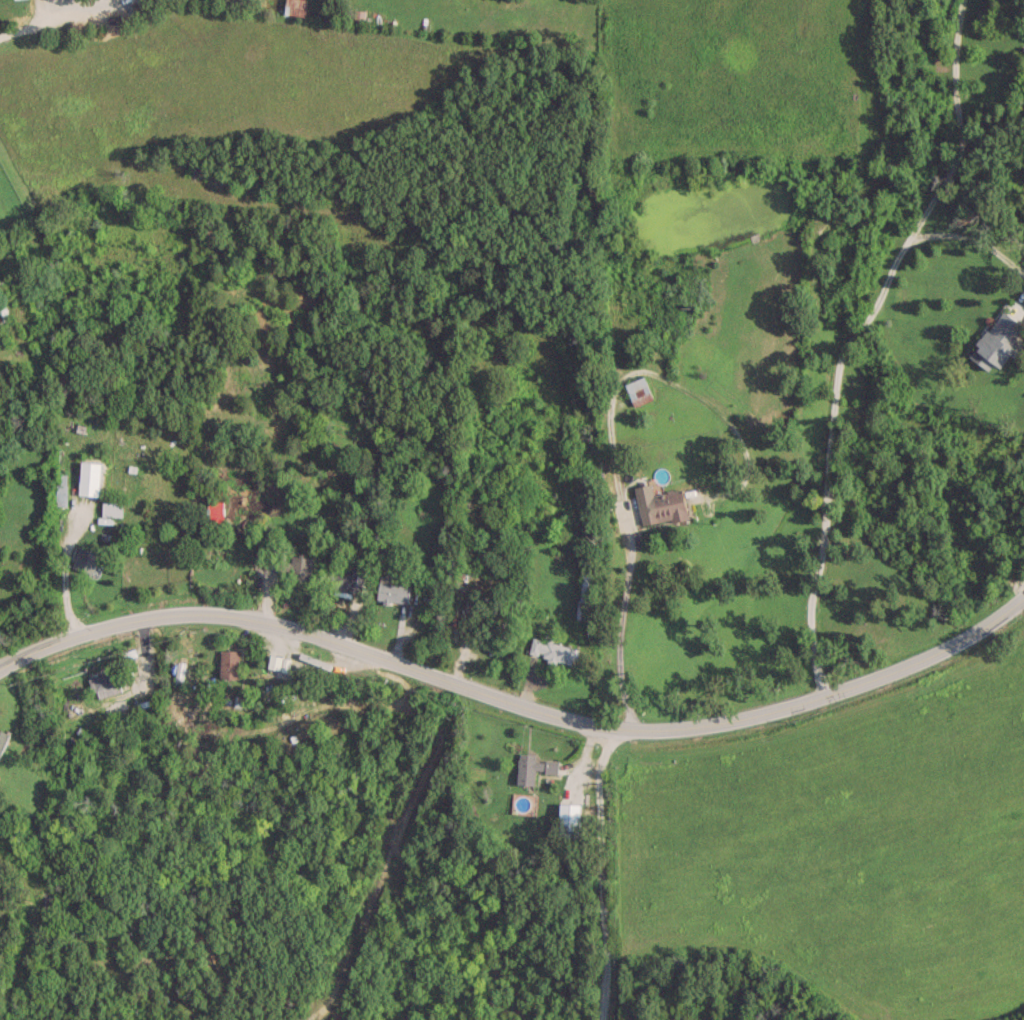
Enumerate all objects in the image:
building: (293, 7)
road: (34, 28)
road: (972, 243)
road: (856, 336)
building: (996, 340)
building: (637, 390)
road: (609, 435)
building: (60, 489)
building: (662, 507)
building: (110, 508)
building: (213, 512)
building: (84, 560)
building: (293, 567)
building: (349, 581)
building: (390, 590)
building: (584, 591)
building: (479, 626)
building: (550, 650)
building: (226, 664)
building: (104, 687)
road: (515, 701)
building: (531, 767)
building: (567, 818)
road: (602, 871)

